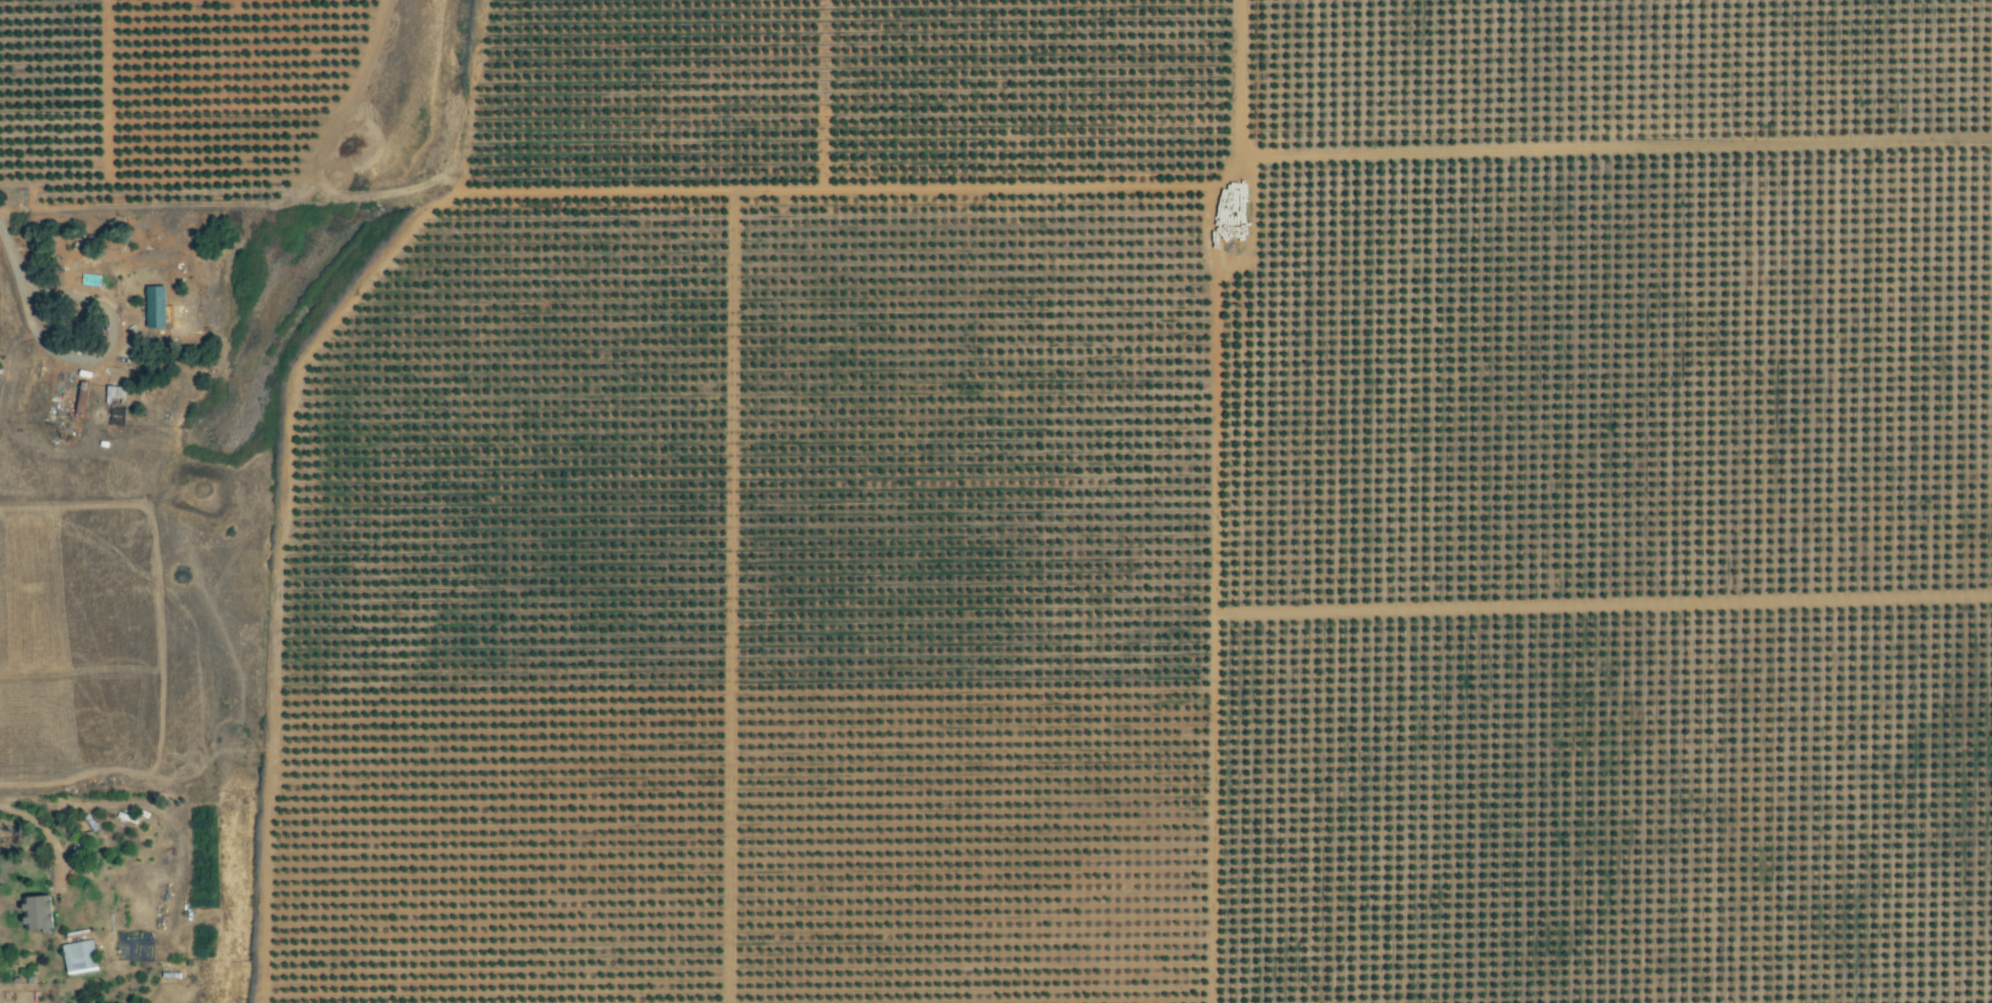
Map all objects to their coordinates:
road: (128, 236)
building: (153, 307)
building: (112, 393)
road: (143, 802)
road: (47, 831)
building: (33, 913)
building: (77, 958)

